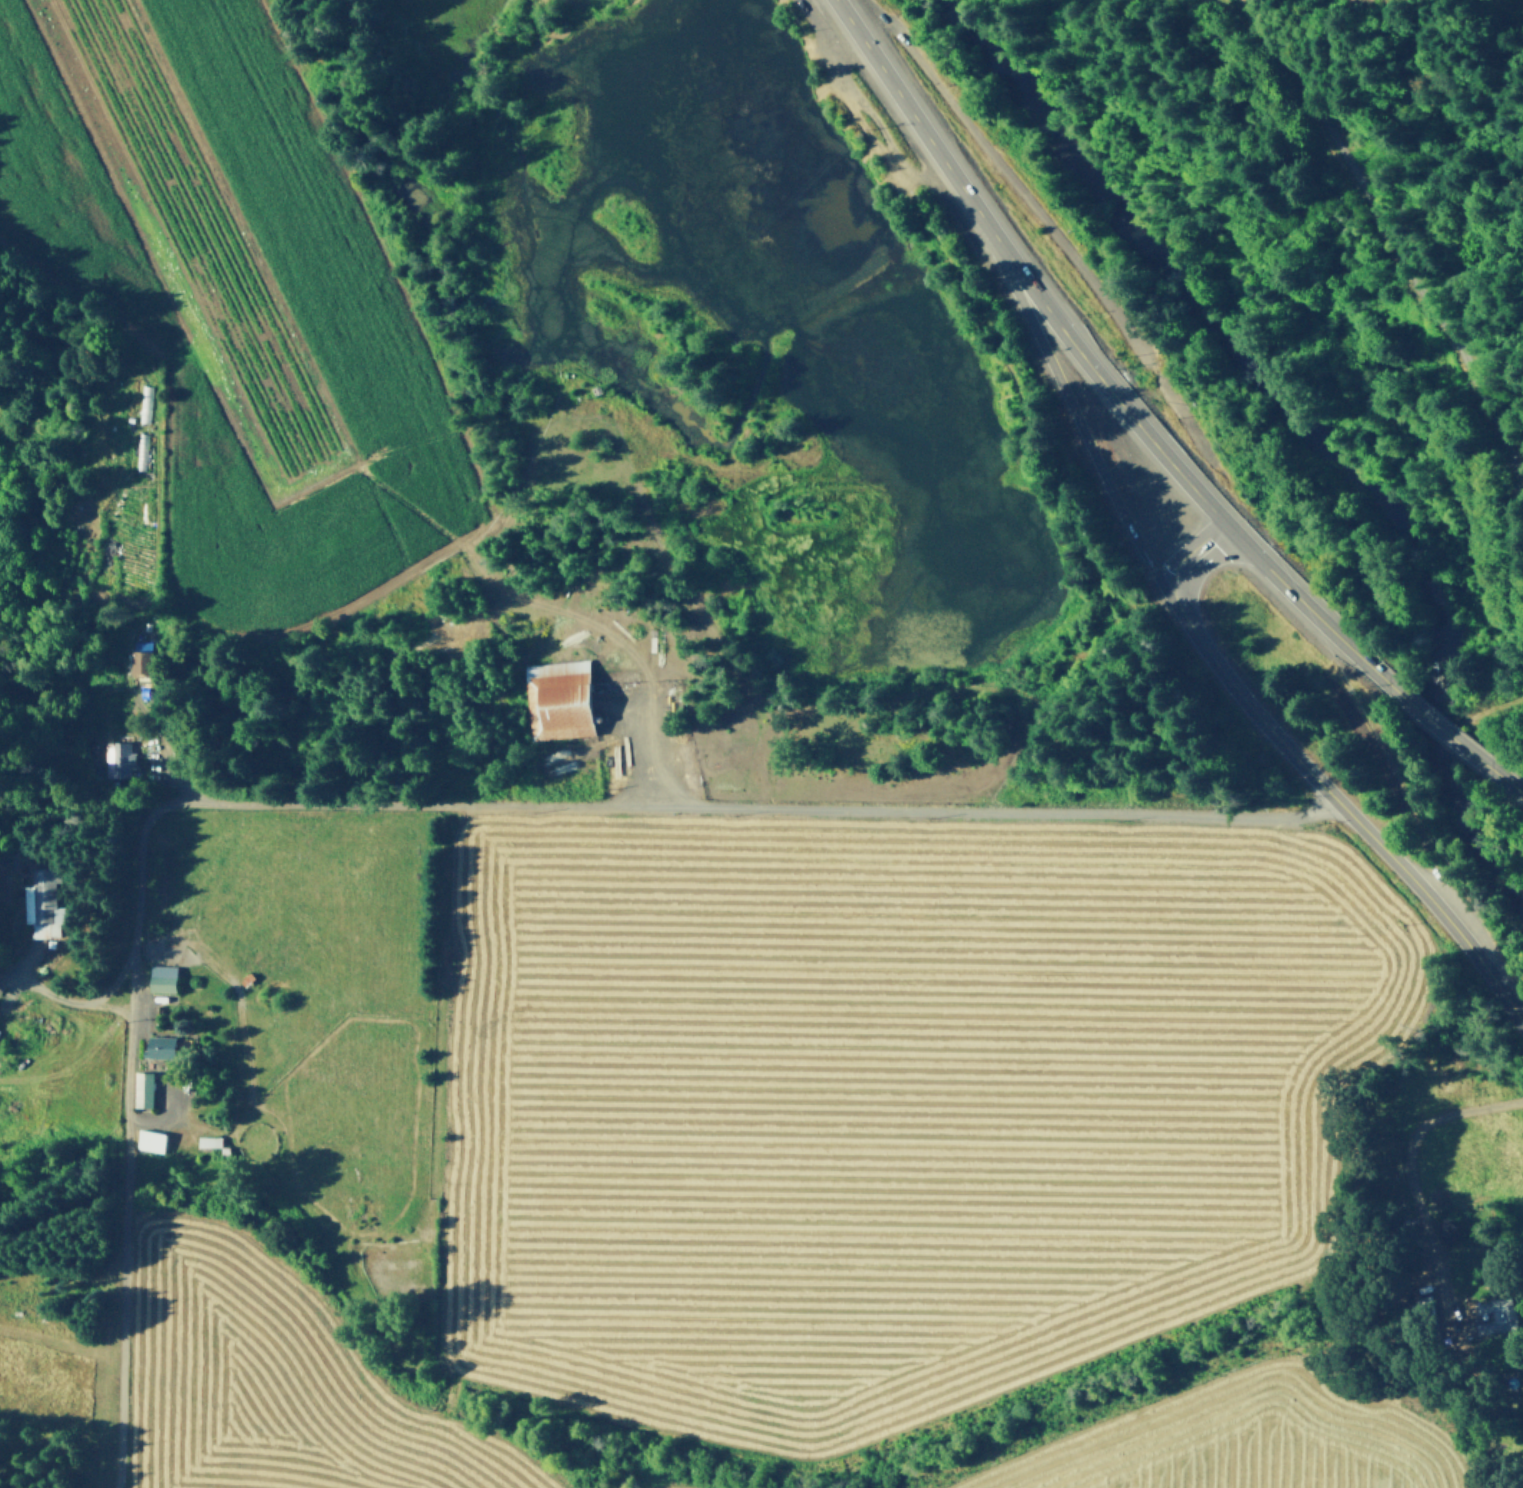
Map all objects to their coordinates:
road: (827, 83)
road: (904, 102)
road: (875, 118)
road: (864, 131)
road: (1010, 176)
crop: (226, 293)
road: (1429, 299)
road: (1093, 367)
building: (595, 387)
road: (1071, 406)
river: (1297, 431)
road: (102, 505)
road: (1182, 555)
road: (488, 570)
road: (1308, 607)
road: (599, 619)
building: (140, 659)
building: (558, 698)
road: (1250, 704)
building: (595, 715)
silo: (595, 715)
road: (1438, 724)
road: (155, 726)
road: (394, 738)
building: (88, 744)
building: (117, 759)
road: (1501, 775)
road: (404, 799)
road: (1435, 902)
building: (42, 903)
road: (13, 970)
building: (163, 975)
road: (74, 999)
road: (144, 1001)
road: (111, 1003)
building: (106, 1029)
building: (168, 1045)
building: (141, 1086)
crop: (878, 1104)
road: (163, 1107)
road: (184, 1119)
building: (151, 1138)
building: (207, 1138)
building: (224, 1151)
road: (1411, 1170)
building: (1408, 1224)
building: (1495, 1313)
crop: (267, 1385)
crop: (1230, 1439)
crop: (652, 1485)

